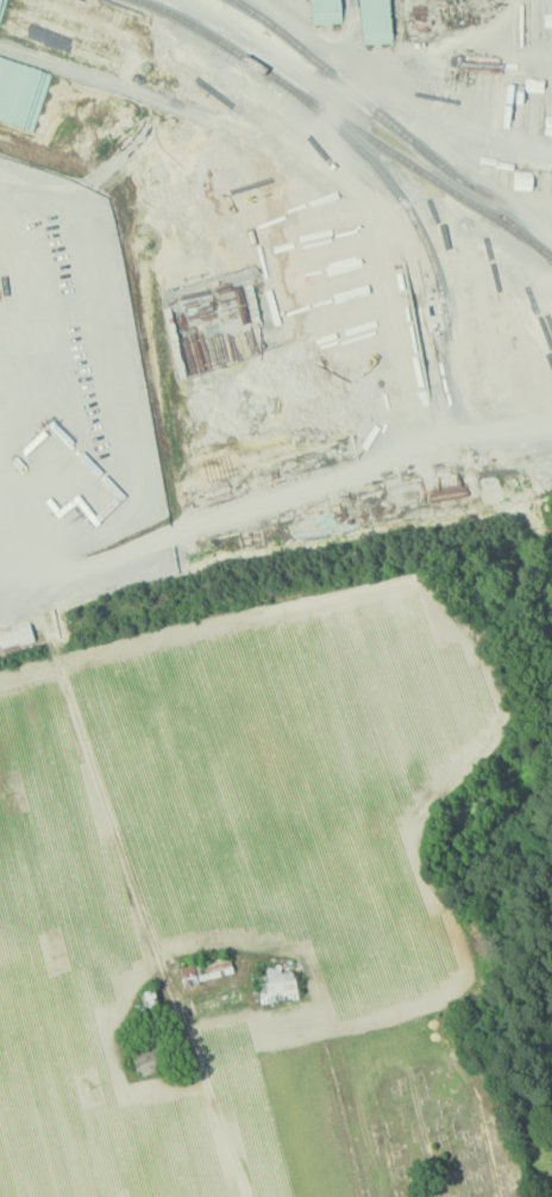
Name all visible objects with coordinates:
railway: (388, 119)
railway: (350, 124)
railway: (397, 194)
road: (288, 495)
building: (14, 637)
road: (125, 858)
building: (277, 985)
building: (146, 1060)
park: (432, 1109)

